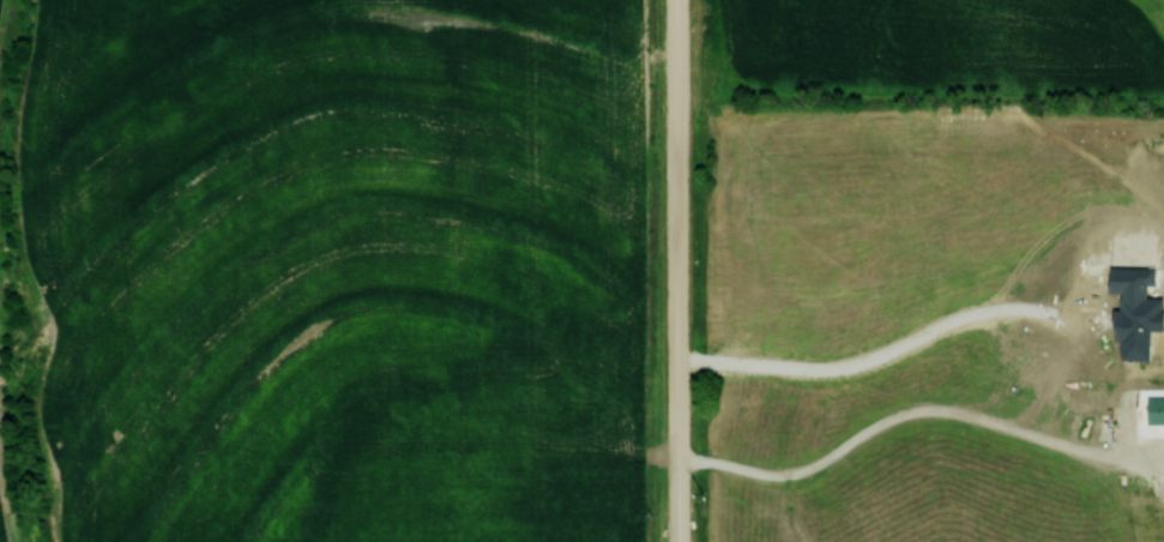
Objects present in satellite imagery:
road: (677, 270)
road: (875, 355)
building: (1156, 409)
road: (915, 411)

